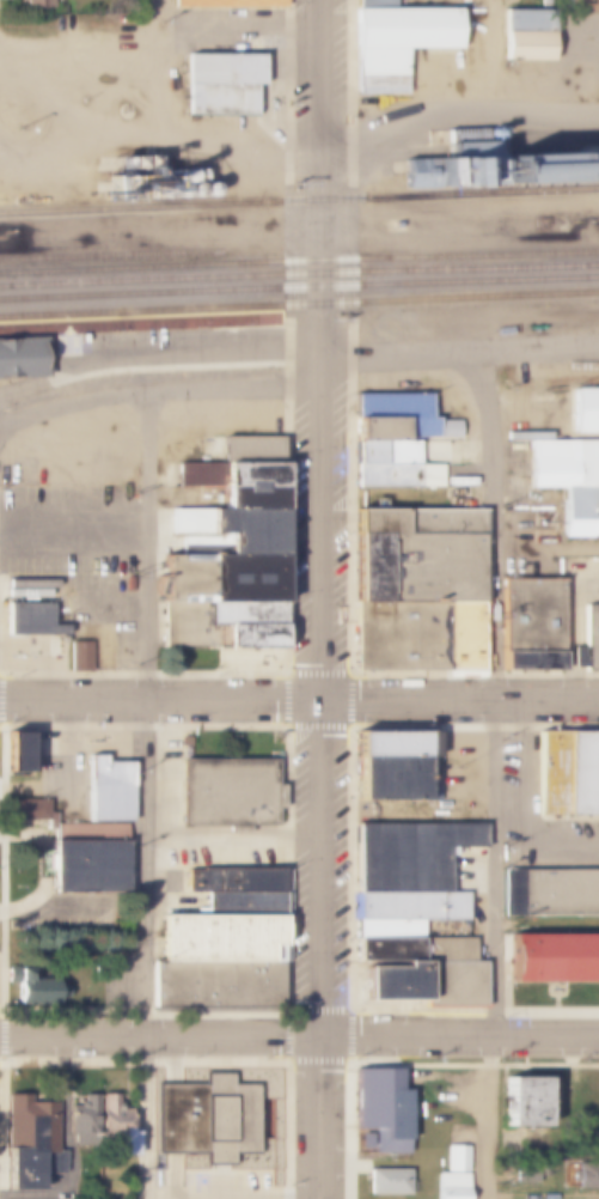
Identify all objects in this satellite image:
building: (35, 4)
building: (226, 4)
building: (372, 4)
building: (580, 6)
building: (403, 28)
building: (522, 36)
road: (490, 48)
road: (160, 56)
building: (375, 62)
building: (220, 84)
building: (375, 85)
road: (460, 96)
road: (8, 136)
building: (583, 164)
silo: (583, 164)
building: (128, 166)
building: (528, 170)
building: (483, 171)
building: (447, 172)
building: (410, 174)
building: (172, 177)
building: (121, 188)
building: (200, 190)
silo: (200, 190)
building: (157, 191)
silo: (157, 191)
building: (171, 191)
silo: (171, 191)
building: (187, 191)
silo: (187, 191)
railway: (299, 199)
railway: (110, 255)
railway: (299, 261)
railway: (299, 274)
railway: (299, 286)
railway: (299, 304)
railway: (282, 318)
road: (459, 349)
building: (23, 357)
road: (159, 392)
building: (389, 406)
building: (585, 410)
building: (404, 430)
building: (247, 450)
building: (384, 452)
building: (563, 463)
building: (396, 475)
building: (227, 476)
building: (247, 499)
building: (580, 511)
parking lot: (77, 517)
building: (416, 522)
road: (74, 530)
building: (225, 532)
building: (416, 567)
building: (219, 579)
building: (27, 588)
road: (319, 598)
road: (112, 605)
building: (31, 619)
building: (219, 625)
building: (528, 625)
building: (416, 635)
building: (587, 641)
building: (80, 656)
road: (495, 693)
road: (159, 701)
road: (459, 701)
building: (384, 745)
building: (435, 745)
building: (20, 753)
building: (569, 773)
building: (384, 779)
building: (109, 790)
building: (230, 792)
building: (429, 793)
road: (147, 796)
building: (27, 810)
building: (405, 854)
building: (88, 865)
building: (236, 877)
building: (550, 891)
building: (246, 902)
building: (408, 906)
building: (385, 929)
building: (224, 936)
building: (411, 950)
building: (555, 958)
building: (219, 979)
building: (389, 981)
building: (451, 985)
building: (32, 988)
road: (160, 1039)
road: (460, 1039)
building: (521, 1102)
building: (378, 1108)
building: (81, 1116)
building: (208, 1118)
road: (493, 1118)
building: (114, 1126)
building: (361, 1140)
building: (26, 1143)
building: (530, 1173)
building: (586, 1174)
building: (452, 1175)
parking lot: (210, 1181)
building: (386, 1181)

